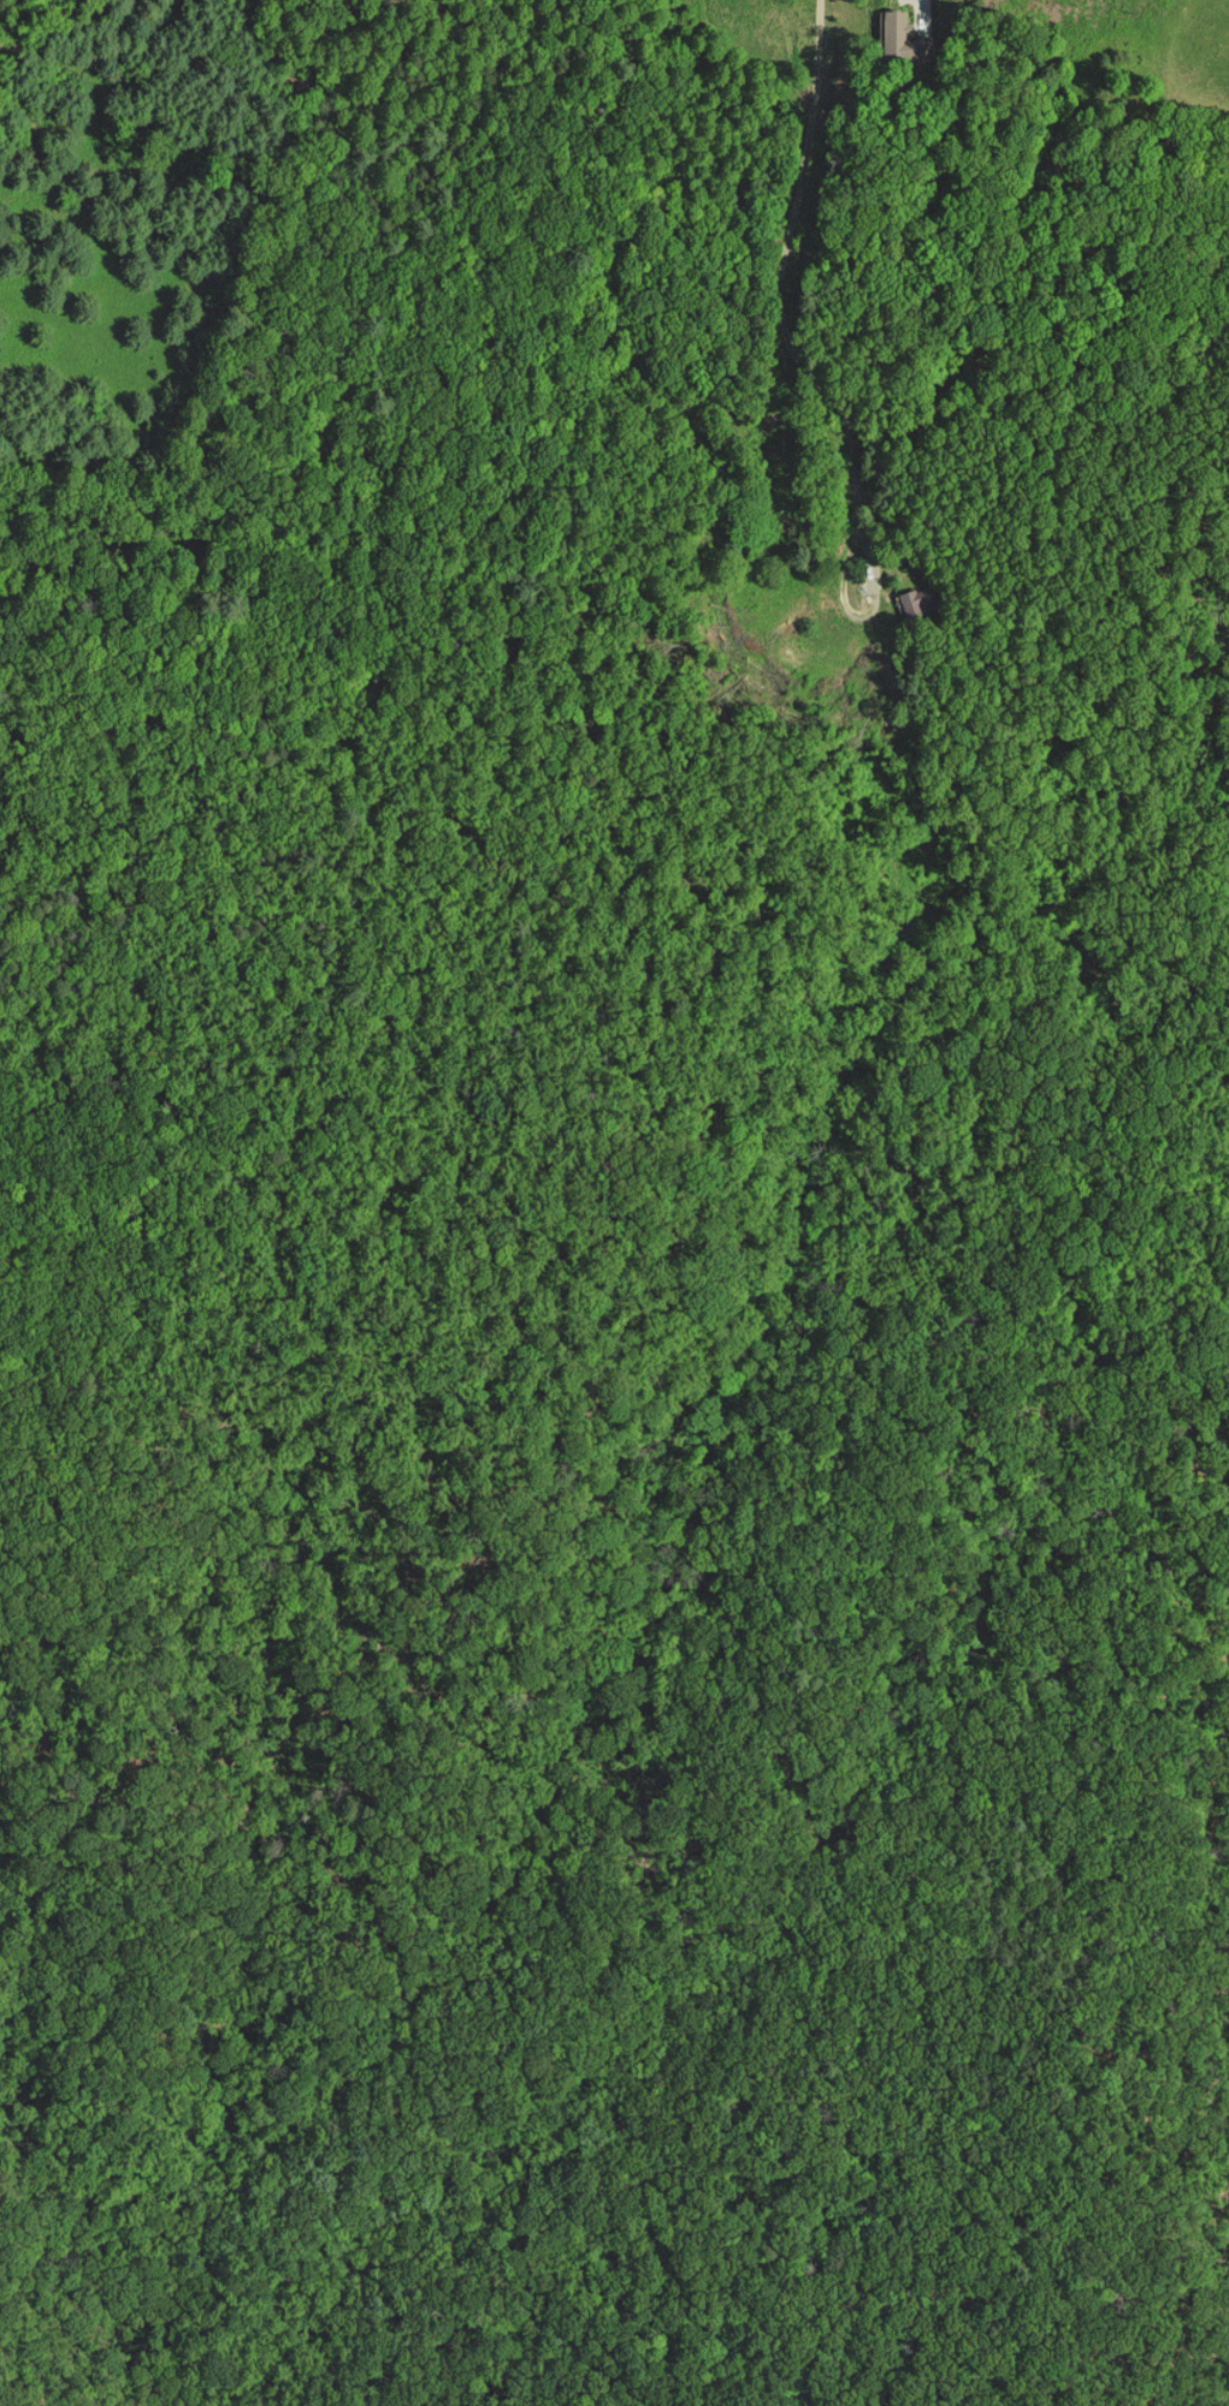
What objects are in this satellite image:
building: (905, 37)
road: (796, 212)
building: (918, 604)

